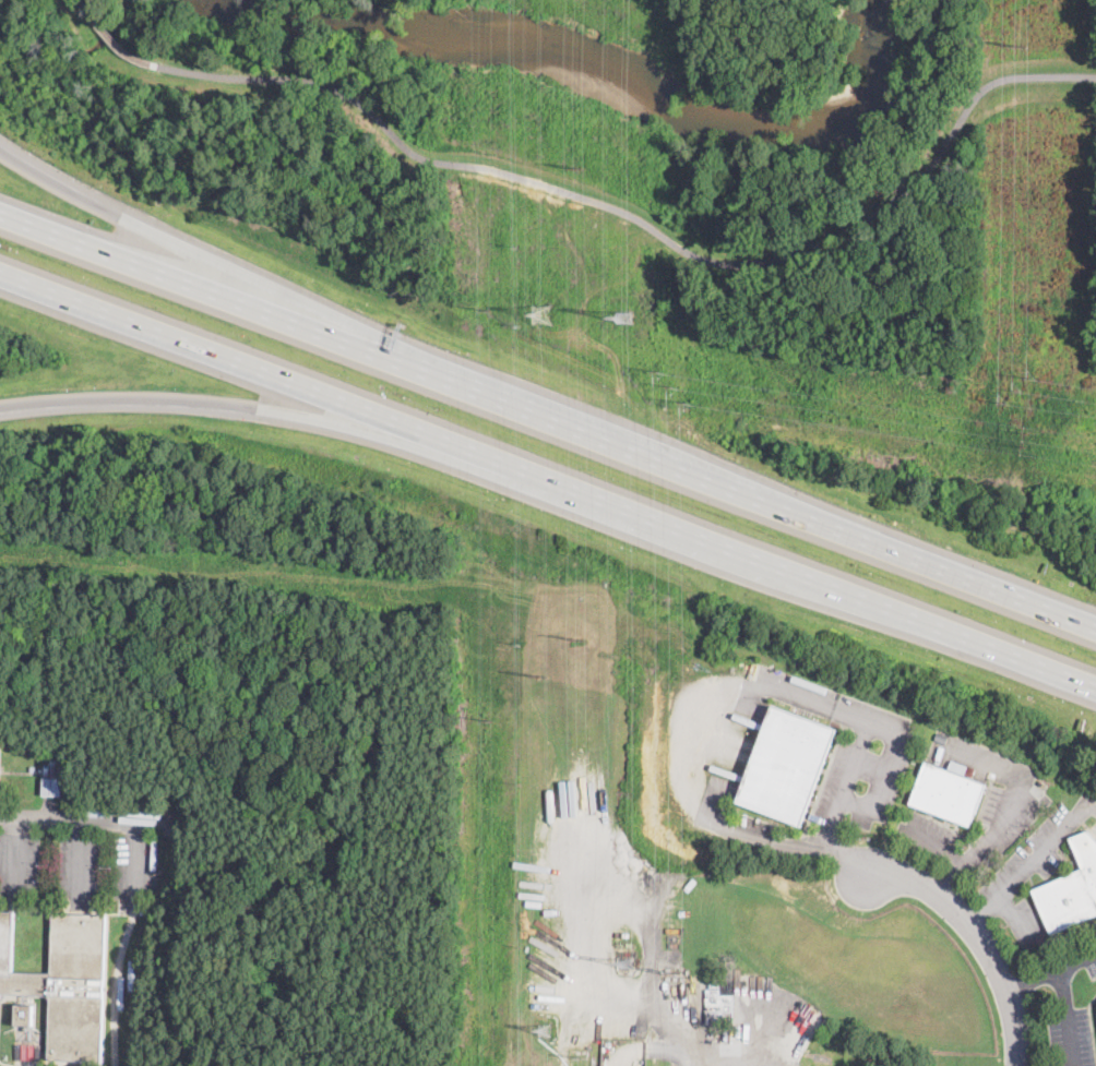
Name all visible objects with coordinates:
power tower: (1020, 47)
park: (616, 154)
power tower: (579, 168)
road: (601, 202)
power tower: (487, 309)
road: (334, 313)
power tower: (623, 313)
power tower: (538, 314)
power tower: (671, 384)
park: (889, 387)
power tower: (1013, 390)
road: (547, 419)
road: (314, 423)
power tower: (1027, 435)
road: (547, 479)
power tower: (581, 639)
road: (699, 702)
power tower: (490, 720)
building: (940, 736)
building: (0, 746)
building: (786, 765)
building: (957, 766)
building: (969, 770)
road: (845, 784)
building: (51, 787)
building: (948, 794)
road: (1010, 812)
road: (69, 818)
road: (14, 854)
road: (80, 855)
road: (132, 861)
road: (1031, 863)
building: (1071, 889)
road: (978, 934)
power tower: (627, 960)
power tower: (672, 970)
road: (1033, 978)
building: (65, 982)
road: (1064, 996)
building: (24, 1015)
building: (718, 1015)
power tower: (544, 1029)
road: (738, 1052)
power tower: (582, 1055)

